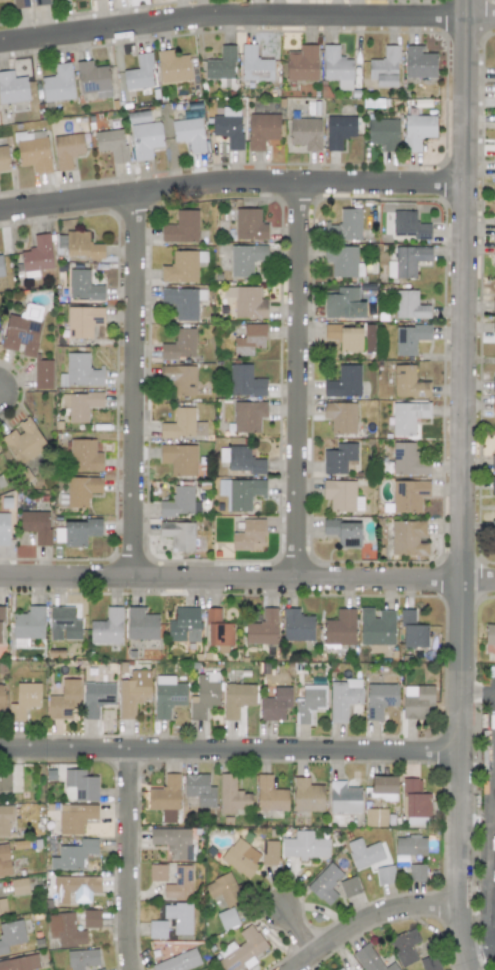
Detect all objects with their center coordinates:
building: (40, 2)
building: (19, 4)
road: (246, 14)
building: (419, 62)
building: (302, 63)
building: (254, 66)
building: (173, 67)
building: (221, 67)
building: (336, 67)
building: (384, 68)
building: (139, 73)
building: (494, 74)
building: (93, 79)
building: (494, 79)
building: (58, 84)
building: (12, 87)
building: (139, 117)
building: (228, 127)
building: (263, 130)
building: (417, 130)
building: (339, 131)
building: (189, 133)
building: (305, 133)
building: (383, 133)
building: (145, 139)
building: (112, 144)
building: (67, 149)
building: (494, 150)
building: (33, 151)
building: (3, 158)
building: (494, 171)
road: (230, 183)
building: (249, 224)
building: (493, 224)
building: (409, 225)
building: (344, 226)
building: (181, 227)
building: (81, 245)
building: (493, 249)
building: (37, 256)
building: (245, 259)
building: (341, 260)
building: (406, 261)
building: (180, 267)
building: (83, 286)
building: (184, 302)
building: (247, 302)
building: (343, 303)
building: (409, 305)
building: (493, 306)
building: (83, 320)
road: (148, 325)
building: (493, 327)
building: (23, 331)
road: (461, 331)
building: (345, 337)
building: (409, 338)
building: (249, 339)
building: (180, 344)
building: (79, 372)
building: (42, 374)
building: (179, 378)
road: (296, 380)
building: (245, 381)
building: (344, 382)
building: (408, 382)
road: (132, 384)
building: (493, 385)
building: (80, 405)
building: (493, 405)
building: (248, 416)
building: (340, 416)
building: (407, 416)
building: (183, 425)
building: (23, 440)
building: (84, 456)
building: (179, 458)
building: (338, 458)
building: (240, 459)
building: (407, 460)
building: (493, 462)
building: (2, 482)
building: (81, 490)
building: (240, 492)
building: (408, 495)
building: (341, 496)
building: (180, 502)
building: (36, 525)
building: (492, 528)
building: (4, 529)
building: (80, 531)
building: (344, 532)
building: (178, 534)
building: (248, 534)
building: (408, 538)
road: (247, 576)
building: (1, 616)
building: (64, 624)
building: (141, 624)
building: (184, 624)
building: (297, 625)
building: (376, 626)
building: (107, 627)
building: (263, 628)
building: (340, 628)
building: (218, 631)
building: (412, 631)
building: (490, 634)
road: (476, 691)
building: (133, 692)
building: (167, 696)
building: (204, 696)
building: (96, 698)
building: (236, 698)
building: (343, 698)
building: (380, 699)
building: (24, 700)
building: (64, 700)
building: (416, 700)
building: (1, 701)
building: (309, 702)
building: (275, 704)
road: (228, 751)
building: (5, 782)
building: (383, 784)
building: (79, 785)
building: (199, 789)
building: (165, 794)
building: (231, 795)
building: (269, 795)
building: (306, 795)
building: (344, 798)
building: (415, 801)
building: (375, 817)
road: (457, 817)
building: (75, 818)
building: (5, 819)
building: (173, 842)
building: (304, 846)
building: (410, 846)
building: (270, 852)
building: (364, 853)
building: (74, 854)
building: (241, 857)
road: (129, 860)
road: (490, 860)
building: (4, 861)
building: (157, 872)
building: (416, 872)
building: (385, 875)
building: (179, 883)
building: (325, 883)
building: (19, 885)
building: (348, 886)
building: (74, 887)
building: (224, 889)
building: (3, 906)
building: (179, 917)
building: (227, 918)
building: (91, 919)
road: (366, 919)
building: (157, 929)
building: (65, 930)
building: (10, 934)
road: (297, 935)
building: (404, 947)
building: (241, 950)
building: (82, 959)
building: (370, 959)
building: (179, 961)
building: (20, 963)
building: (429, 963)
building: (211, 968)
building: (100, 969)
building: (340, 969)

